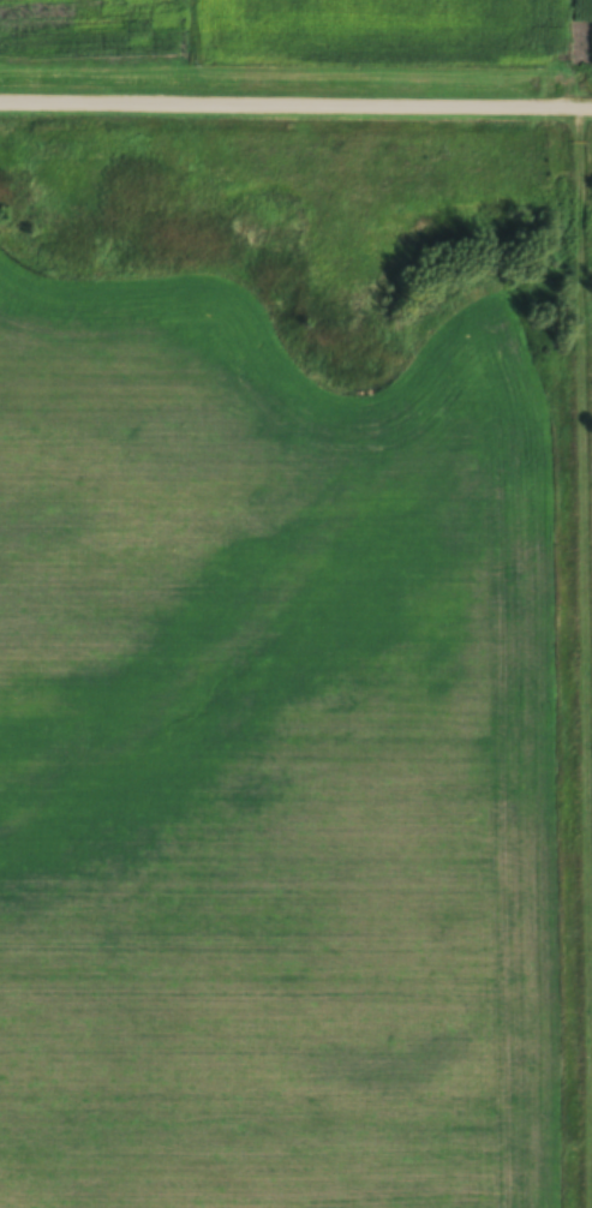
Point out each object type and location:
road: (295, 101)

